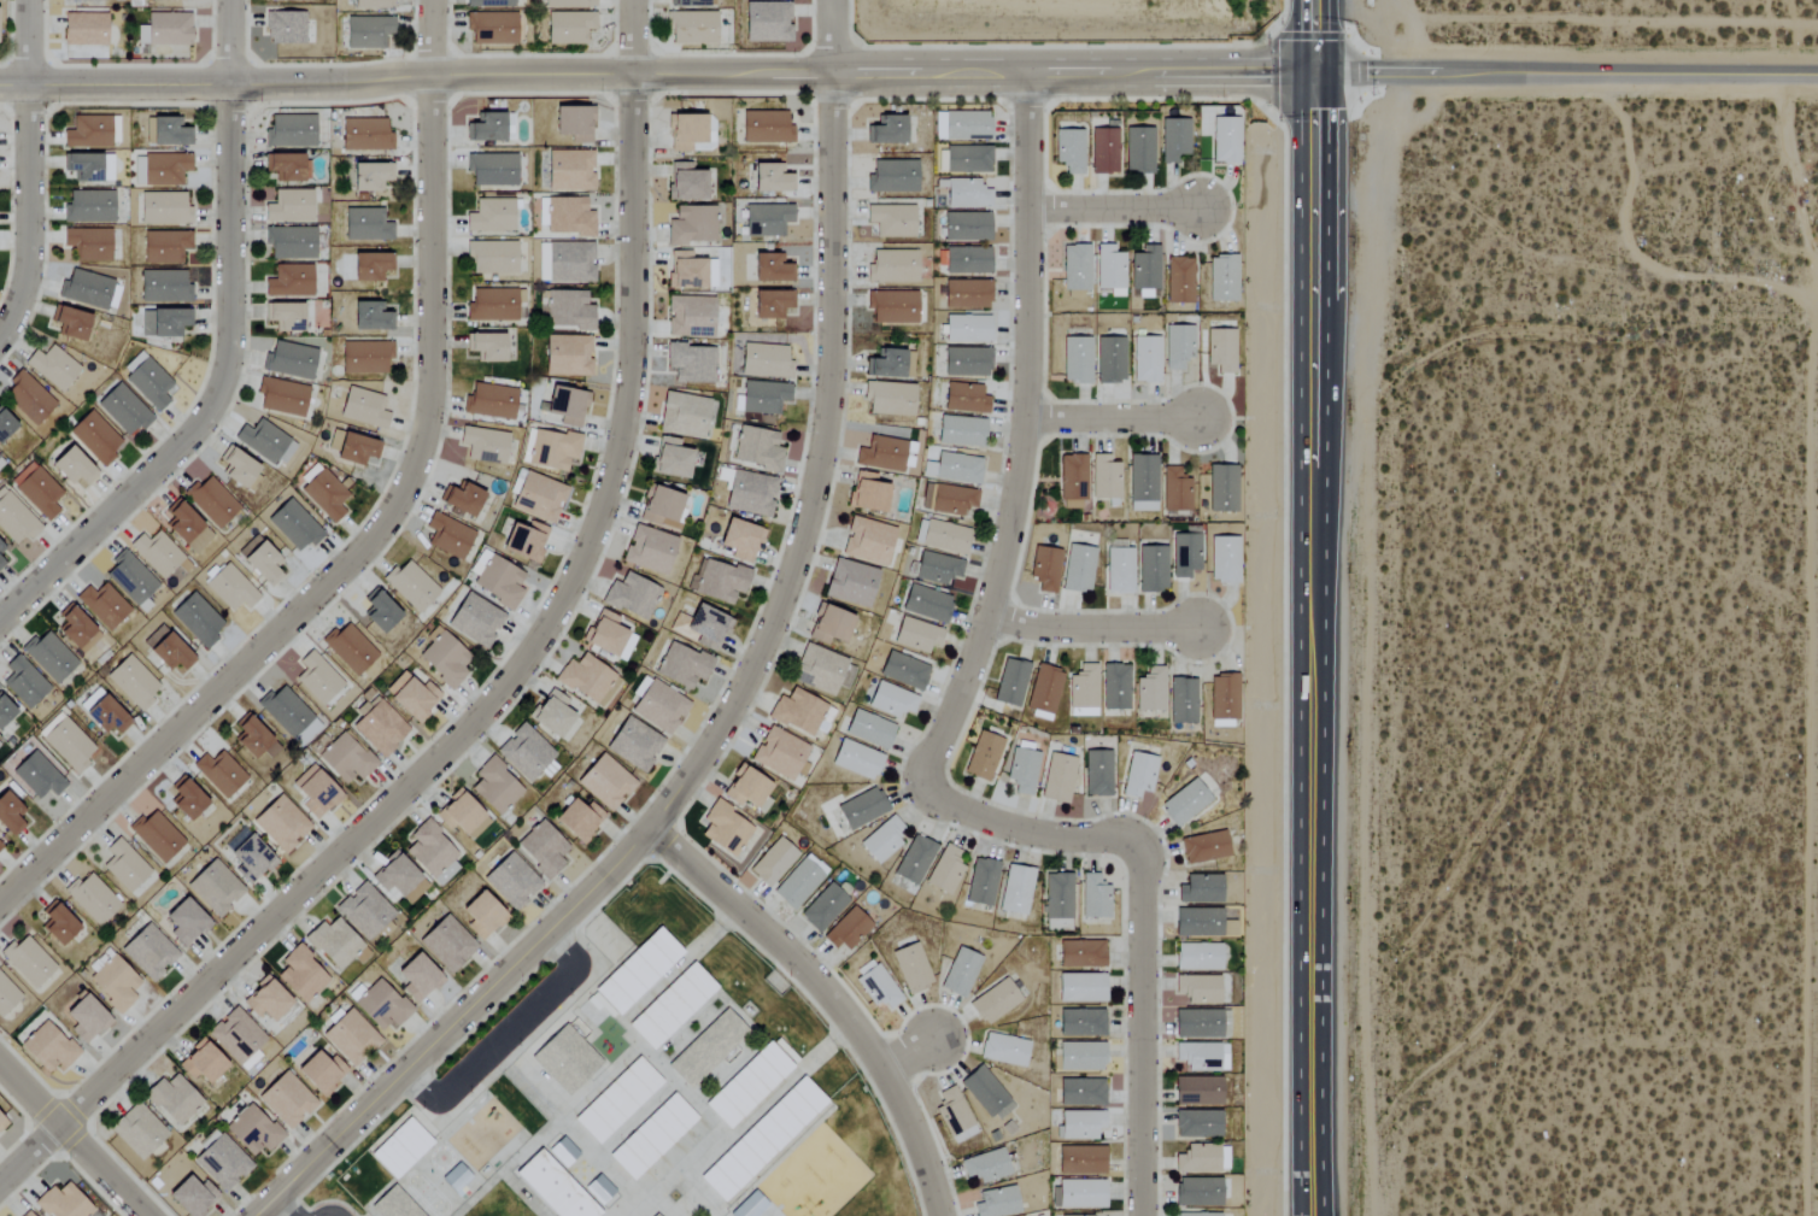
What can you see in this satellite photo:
building: (81, 0)
building: (166, 0)
building: (289, 0)
building: (488, 4)
building: (568, 4)
building: (692, 4)
building: (371, 5)
building: (767, 22)
building: (285, 28)
building: (491, 28)
building: (569, 28)
building: (692, 28)
building: (83, 29)
building: (165, 30)
building: (366, 33)
road: (1302, 34)
road: (1324, 34)
road: (632, 35)
road: (831, 35)
road: (433, 36)
road: (28, 45)
road: (230, 45)
traffic signals: (1302, 69)
traffic signals: (1324, 69)
road: (1560, 70)
road: (650, 71)
building: (573, 122)
building: (962, 125)
building: (485, 127)
building: (766, 128)
building: (886, 129)
building: (291, 130)
building: (92, 131)
building: (168, 131)
building: (364, 135)
building: (1220, 140)
building: (1173, 141)
building: (1069, 149)
building: (1138, 149)
building: (1103, 151)
building: (967, 159)
building: (88, 166)
building: (285, 166)
road: (1795, 166)
building: (162, 169)
building: (492, 170)
building: (569, 170)
building: (370, 176)
building: (892, 176)
building: (770, 177)
building: (686, 182)
road: (1325, 182)
building: (963, 193)
building: (88, 206)
building: (289, 206)
road: (1119, 207)
building: (163, 208)
road: (25, 215)
building: (491, 216)
building: (568, 216)
building: (767, 219)
building: (892, 219)
building: (692, 224)
building: (365, 225)
building: (966, 227)
building: (88, 242)
building: (289, 242)
building: (165, 247)
building: (492, 257)
building: (967, 259)
building: (569, 262)
building: (369, 265)
building: (892, 266)
building: (770, 268)
building: (1075, 268)
building: (686, 270)
building: (1145, 272)
building: (1219, 278)
building: (1179, 280)
building: (288, 281)
building: (163, 287)
building: (86, 288)
building: (966, 294)
building: (770, 304)
building: (491, 305)
building: (892, 307)
building: (569, 310)
building: (283, 316)
building: (370, 316)
building: (690, 317)
building: (69, 322)
building: (164, 322)
building: (967, 329)
building: (486, 346)
building: (1178, 346)
building: (1219, 348)
building: (568, 356)
building: (365, 357)
building: (1146, 359)
building: (289, 360)
building: (764, 360)
building: (1077, 360)
building: (1110, 360)
building: (966, 362)
building: (691, 363)
building: (885, 364)
building: (52, 366)
building: (147, 380)
road: (1325, 386)
building: (281, 396)
building: (763, 396)
building: (28, 398)
building: (964, 398)
road: (216, 399)
building: (889, 399)
building: (489, 401)
building: (565, 405)
building: (363, 407)
building: (123, 410)
building: (682, 416)
road: (1116, 418)
building: (5, 424)
building: (960, 431)
building: (94, 437)
road: (1030, 439)
building: (265, 442)
building: (483, 445)
building: (351, 447)
building: (552, 448)
building: (757, 448)
building: (880, 454)
building: (908, 454)
building: (670, 458)
building: (1, 462)
building: (71, 466)
building: (236, 466)
building: (955, 468)
building: (1106, 477)
building: (1073, 480)
building: (1143, 483)
building: (1222, 488)
building: (37, 490)
building: (1175, 490)
building: (326, 492)
building: (867, 492)
building: (749, 493)
building: (538, 497)
building: (461, 499)
building: (948, 499)
building: (211, 501)
building: (663, 509)
building: (14, 519)
building: (294, 525)
building: (187, 528)
building: (447, 535)
building: (945, 536)
building: (524, 540)
building: (740, 540)
building: (867, 541)
building: (649, 550)
road: (358, 552)
building: (156, 553)
building: (1185, 554)
building: (2, 557)
building: (259, 559)
building: (1220, 559)
building: (937, 568)
building: (1045, 569)
building: (1078, 569)
building: (1151, 569)
building: (1119, 570)
building: (130, 577)
building: (719, 581)
building: (499, 582)
building: (850, 583)
building: (411, 586)
building: (230, 588)
building: (632, 595)
building: (926, 603)
building: (102, 605)
building: (379, 612)
building: (197, 619)
building: (475, 619)
building: (828, 624)
road: (1097, 629)
building: (76, 630)
building: (916, 635)
building: (609, 636)
road: (1301, 642)
building: (348, 648)
building: (166, 651)
building: (48, 656)
building: (444, 660)
building: (681, 665)
building: (820, 669)
building: (904, 670)
building: (317, 679)
building: (586, 679)
building: (23, 682)
building: (131, 682)
building: (1010, 682)
building: (1115, 687)
building: (1150, 689)
building: (1084, 691)
building: (1044, 692)
building: (410, 695)
building: (1224, 699)
building: (891, 700)
building: (1183, 701)
building: (659, 707)
building: (5, 710)
building: (286, 711)
building: (797, 711)
road: (483, 712)
building: (105, 715)
building: (551, 715)
road: (720, 727)
building: (380, 728)
building: (869, 729)
building: (250, 736)
building: (634, 744)
building: (66, 745)
building: (524, 752)
building: (779, 753)
building: (983, 756)
building: (346, 758)
building: (857, 759)
building: (1022, 770)
building: (219, 773)
building: (1097, 774)
building: (37, 775)
building: (1138, 775)
building: (1057, 777)
building: (605, 782)
building: (494, 787)
building: (745, 788)
building: (315, 793)
building: (186, 799)
building: (1184, 803)
building: (861, 809)
building: (8, 815)
building: (462, 816)
building: (577, 820)
building: (281, 823)
building: (725, 829)
road: (1027, 833)
building: (156, 836)
building: (884, 839)
building: (0, 846)
road: (1321, 846)
building: (1203, 847)
building: (543, 848)
building: (429, 850)
building: (250, 858)
building: (915, 859)
building: (772, 862)
building: (124, 865)
building: (946, 870)
building: (394, 875)
building: (511, 881)
building: (981, 882)
building: (798, 883)
building: (213, 888)
building: (1016, 889)
building: (1200, 889)
building: (415, 891)
building: (1058, 897)
building: (1095, 898)
building: (92, 899)
building: (822, 907)
building: (364, 911)
building: (481, 914)
building: (184, 922)
building: (1197, 922)
building: (57, 924)
building: (848, 929)
building: (333, 944)
building: (446, 944)
building: (148, 952)
building: (1081, 954)
building: (1197, 957)
building: (27, 962)
building: (911, 968)
building: (638, 971)
building: (960, 973)
building: (300, 975)
building: (416, 975)
building: (112, 981)
building: (875, 985)
building: (1081, 988)
building: (1197, 989)
building: (7, 997)
road: (828, 999)
building: (265, 1000)
building: (993, 1001)
building: (381, 1005)
building: (670, 1005)
building: (84, 1018)
building: (1081, 1022)
building: (1197, 1023)
road: (1140, 1032)
road: (505, 1033)
building: (235, 1035)
building: (350, 1038)
building: (704, 1046)
building: (48, 1047)
building: (1003, 1050)
road: (913, 1055)
building: (1197, 1056)
building: (1080, 1057)
building: (1222, 1057)
building: (567, 1059)
building: (201, 1063)
building: (319, 1073)
building: (746, 1082)
building: (1197, 1091)
building: (1081, 1092)
building: (986, 1094)
building: (172, 1099)
building: (618, 1099)
building: (286, 1100)
building: (956, 1114)
building: (1, 1123)
building: (1197, 1123)
building: (1080, 1124)
building: (137, 1130)
building: (252, 1130)
building: (653, 1135)
building: (761, 1136)
road: (72, 1139)
building: (400, 1149)
building: (563, 1150)
building: (1197, 1159)
building: (1081, 1161)
building: (222, 1162)
building: (986, 1167)
building: (454, 1179)
building: (555, 1186)
building: (599, 1187)
building: (1197, 1192)
building: (1081, 1194)
building: (192, 1197)
building: (61, 1203)
building: (997, 1203)
road: (283, 1206)
building: (749, 1206)
road: (326, 1210)
building: (27, 1214)
building: (653, 1215)
building: (1086, 1215)
building: (1196, 1215)

